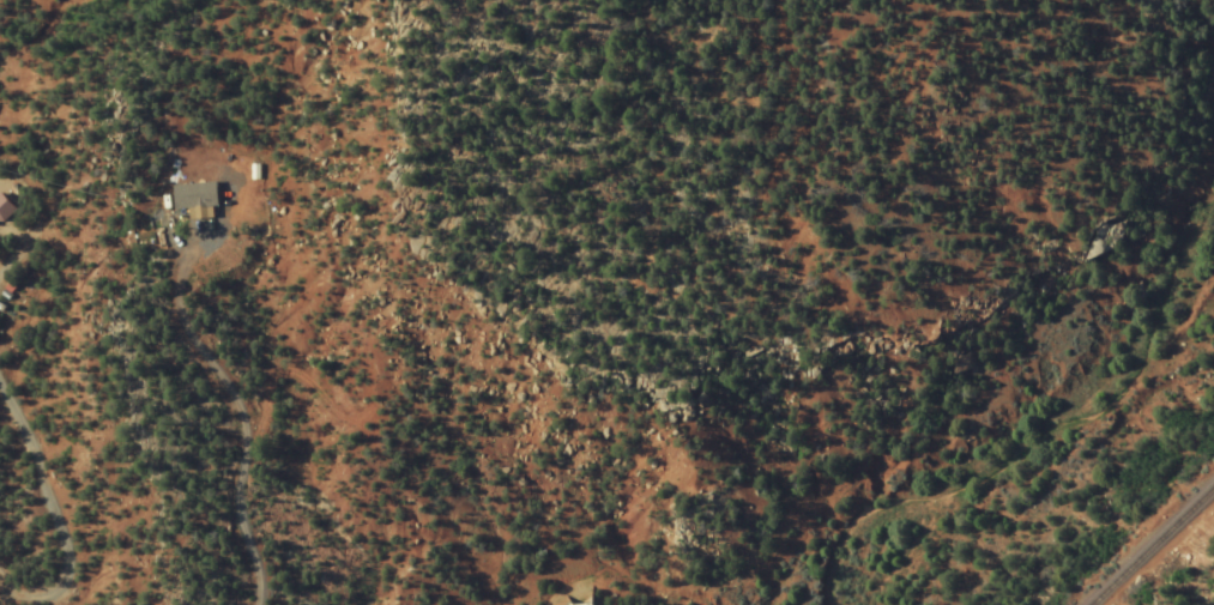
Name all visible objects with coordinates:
building: (4, 211)
railway: (1152, 545)
road: (557, 595)

